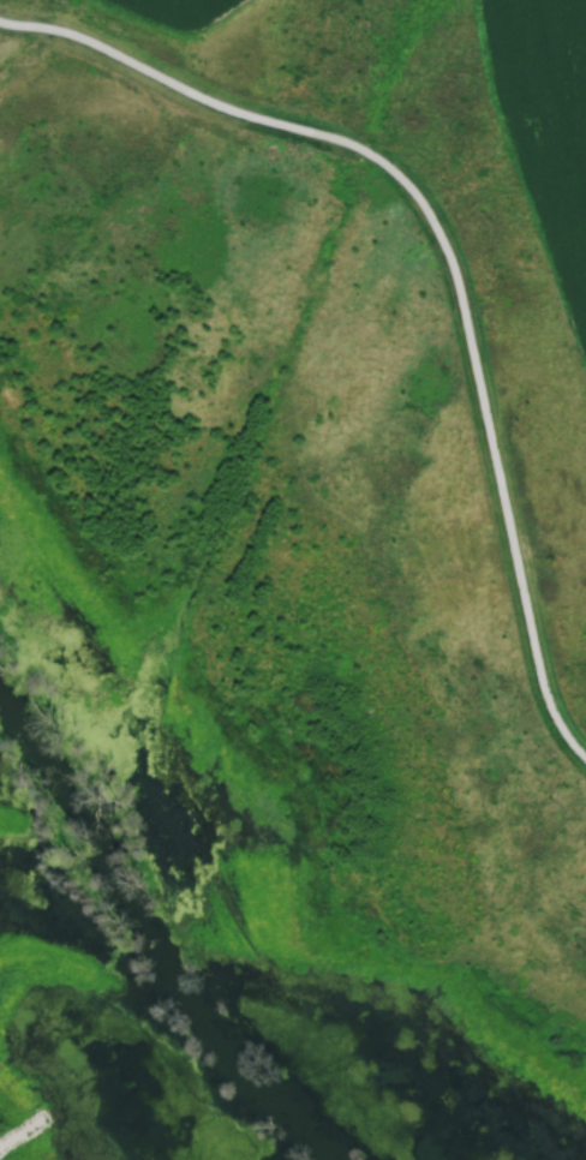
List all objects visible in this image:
road: (447, 255)
park: (283, 600)
road: (22, 1130)

